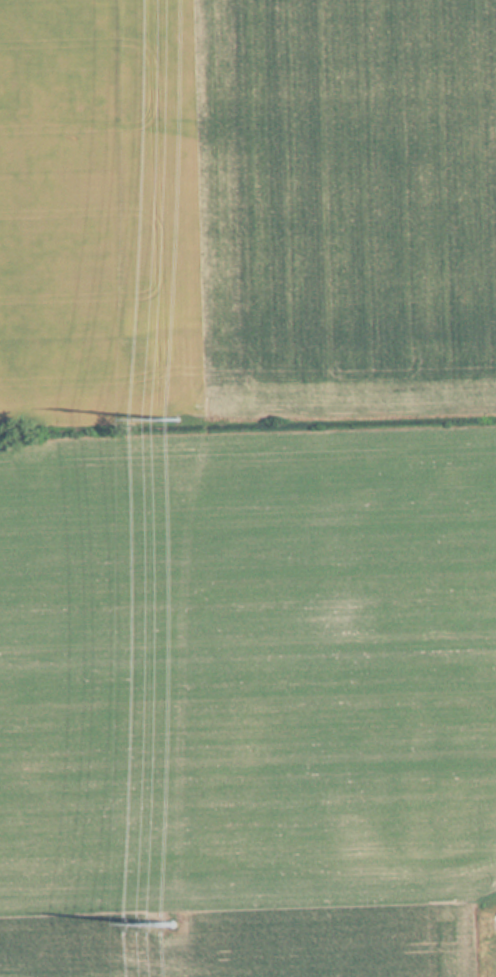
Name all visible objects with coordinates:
power tower: (181, 418)
power tower: (176, 920)

